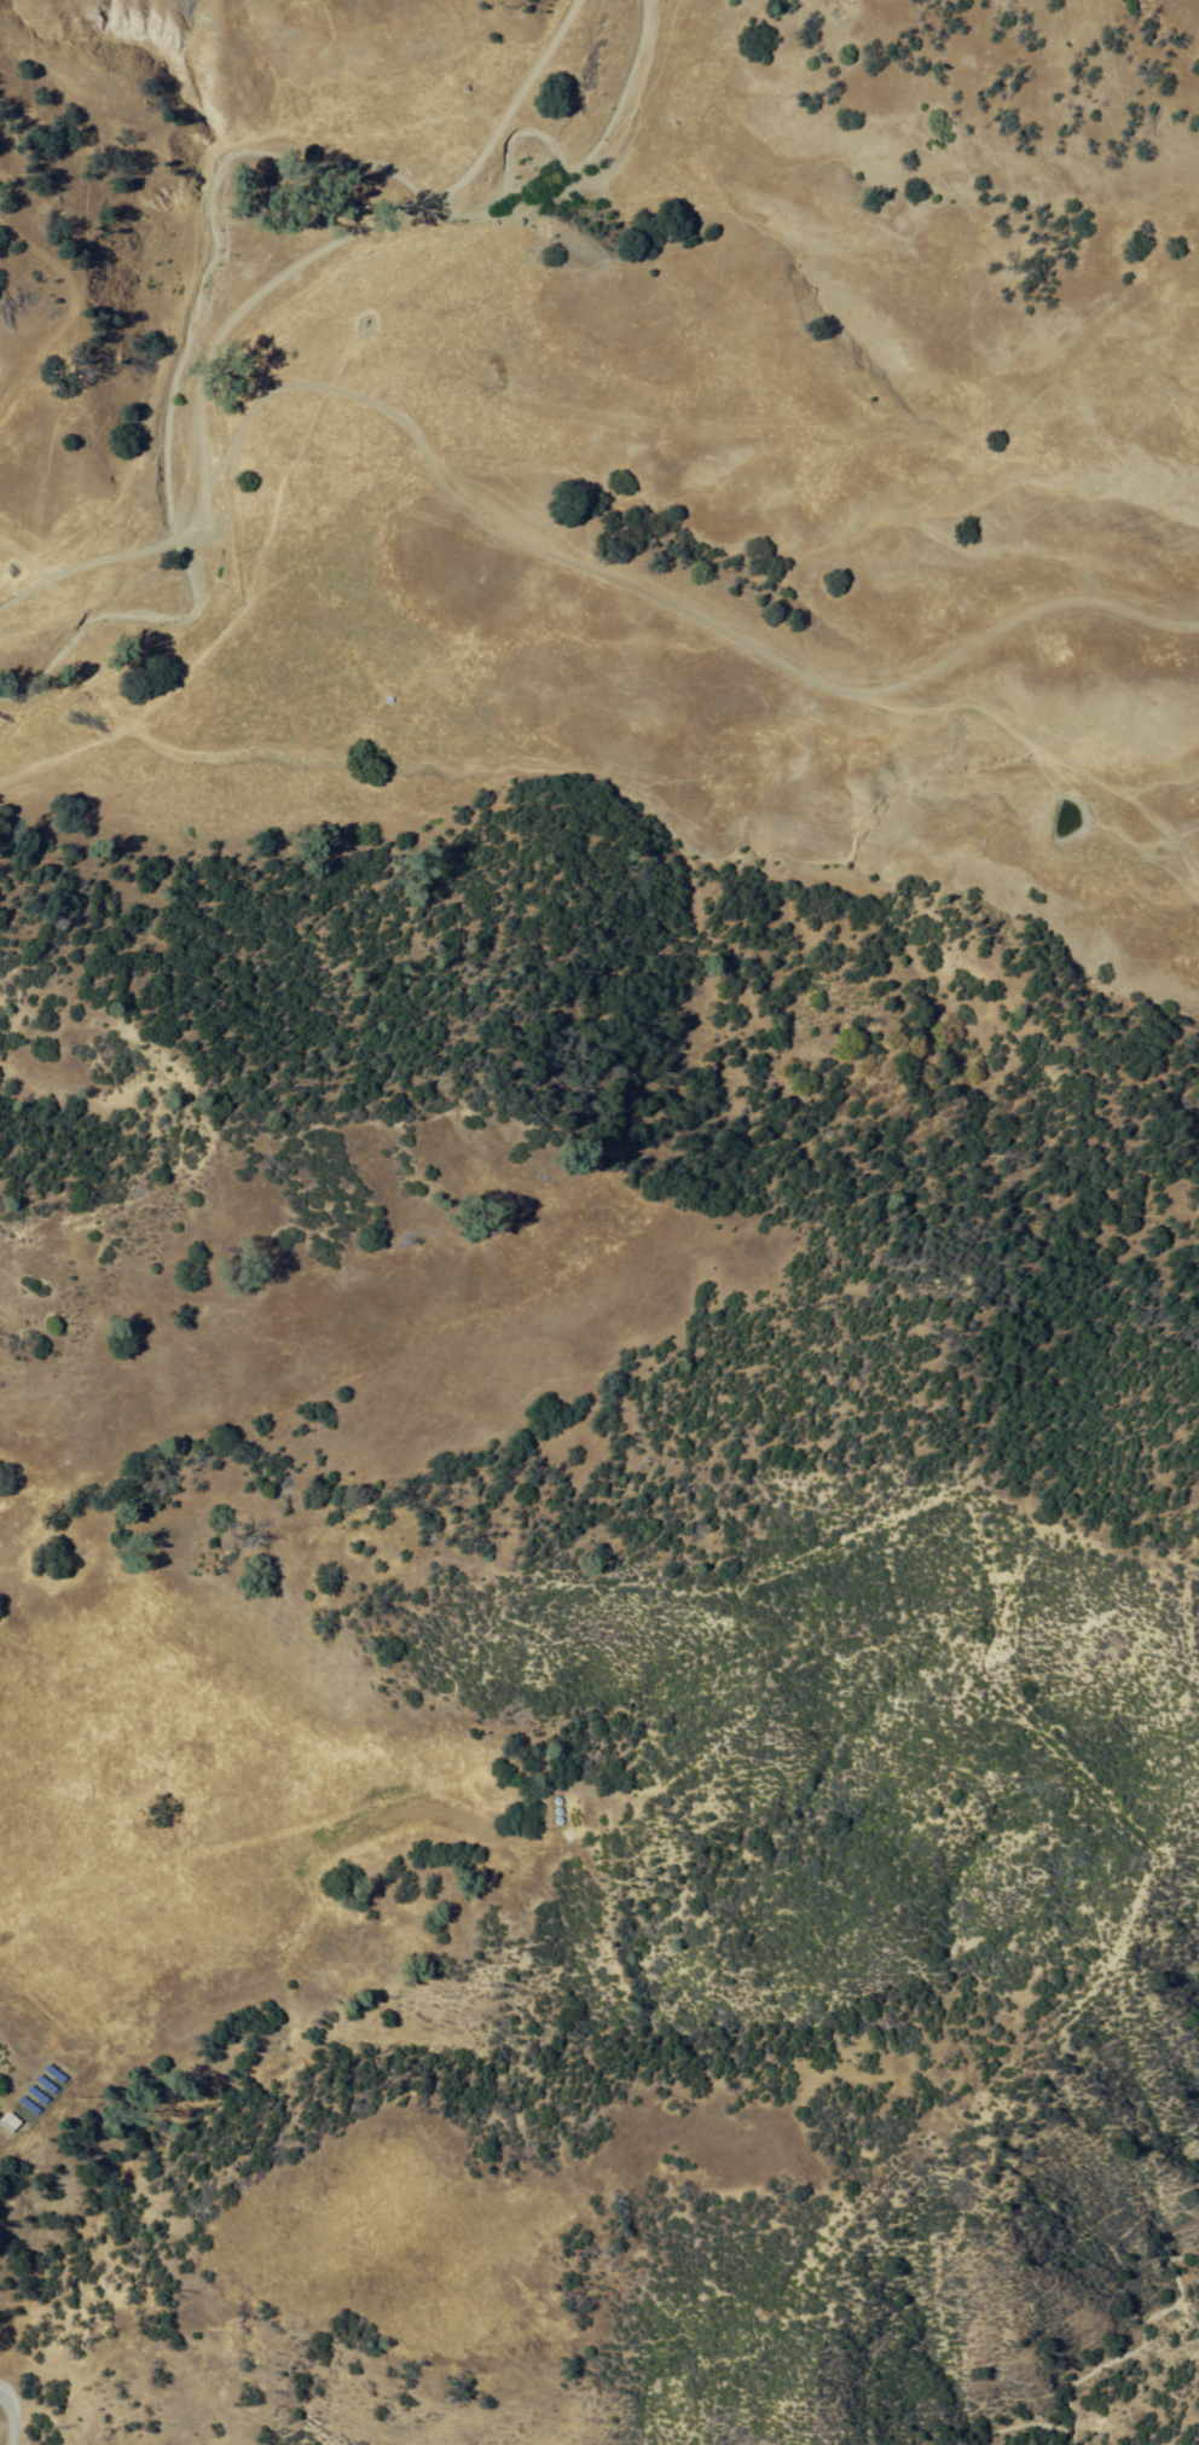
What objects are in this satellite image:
road: (249, 302)
building: (2, 2117)

